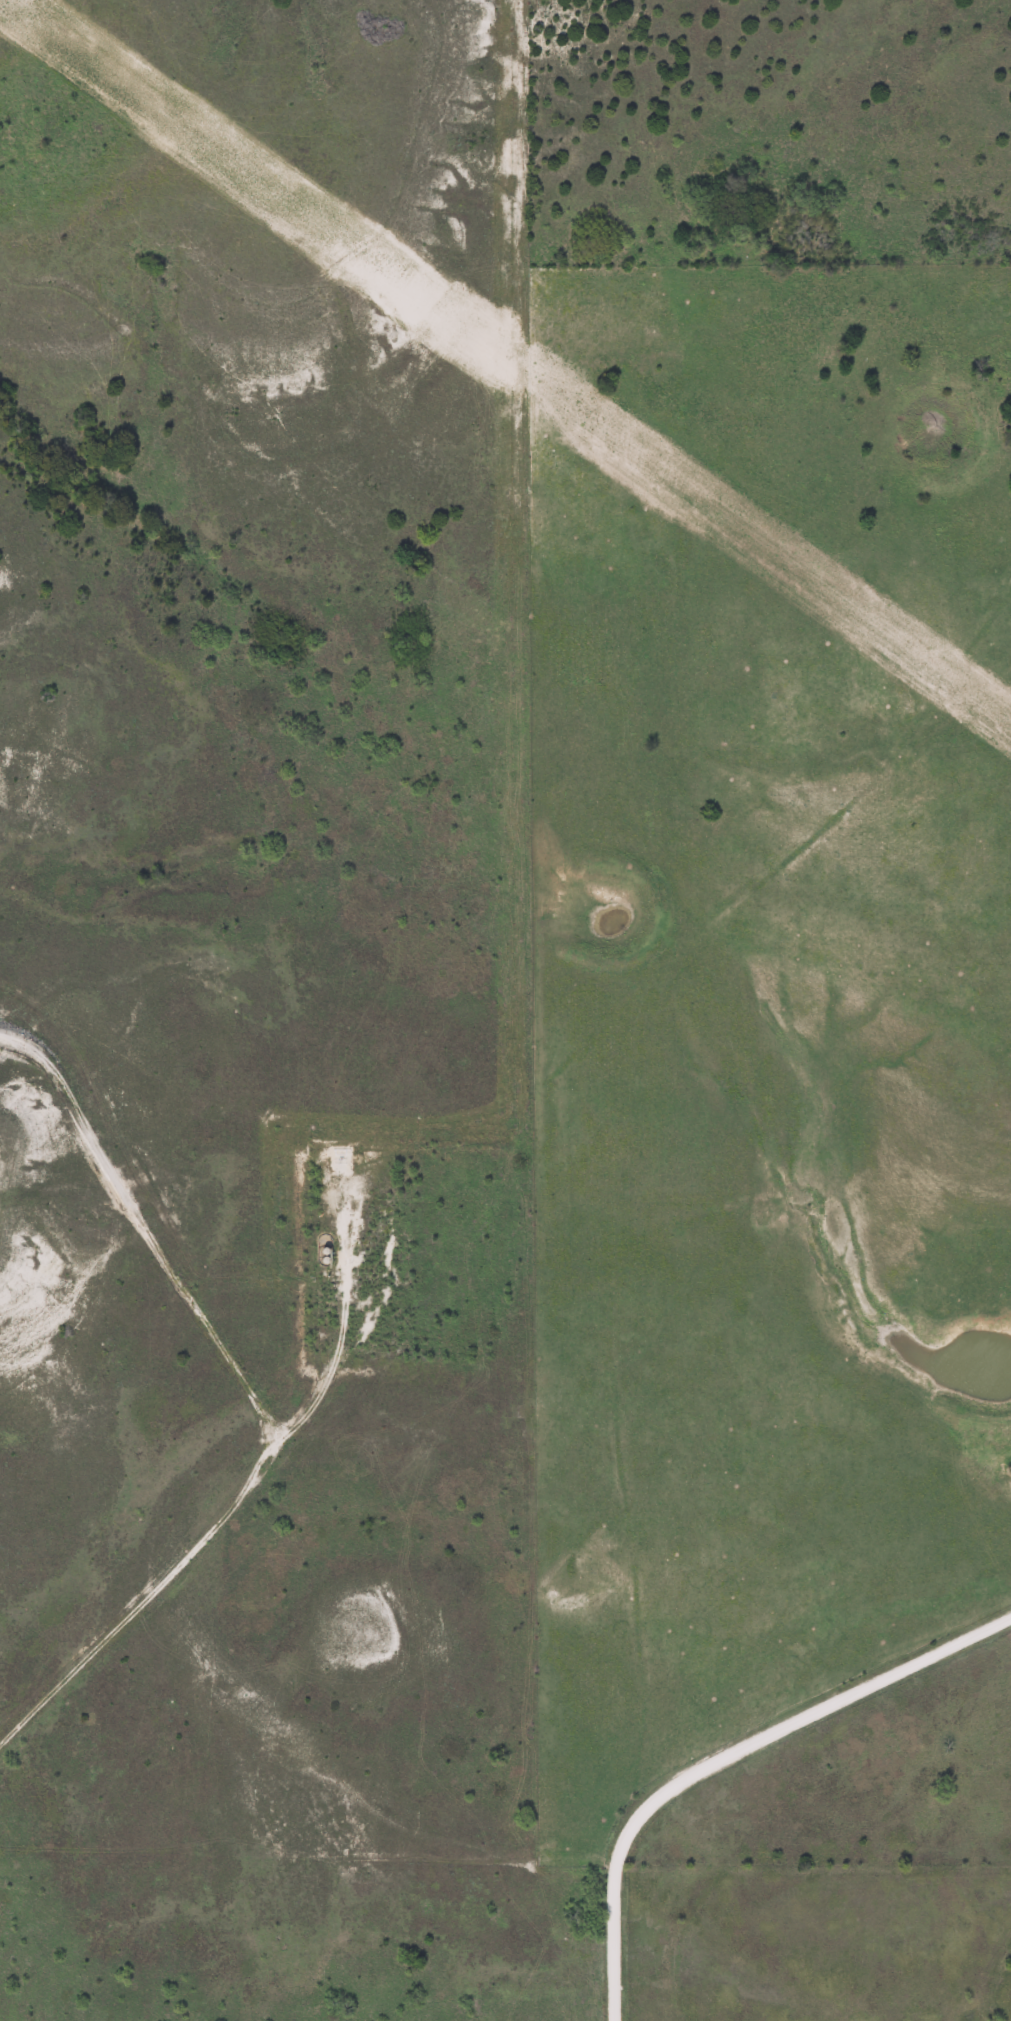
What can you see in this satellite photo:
road: (258, 1401)
road: (820, 1702)
road: (610, 1912)

